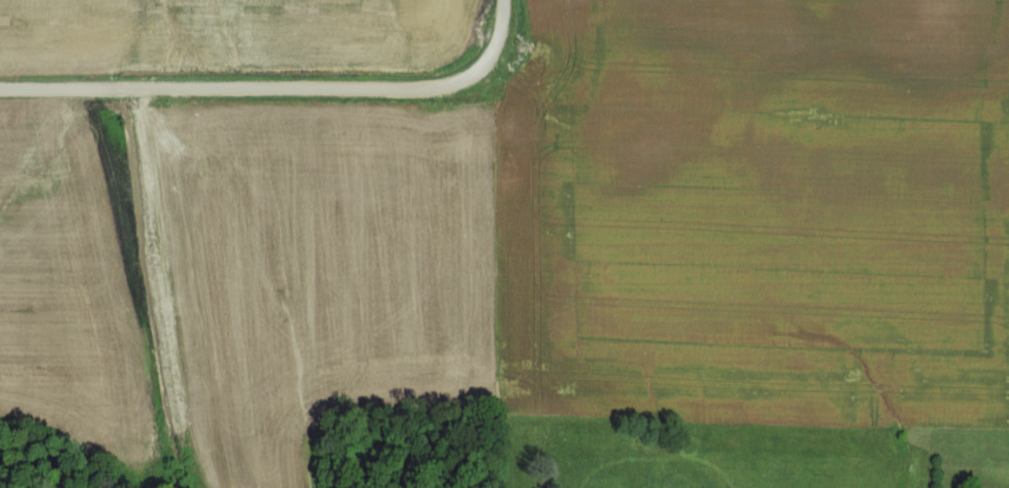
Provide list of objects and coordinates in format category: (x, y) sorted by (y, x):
road: (277, 88)

